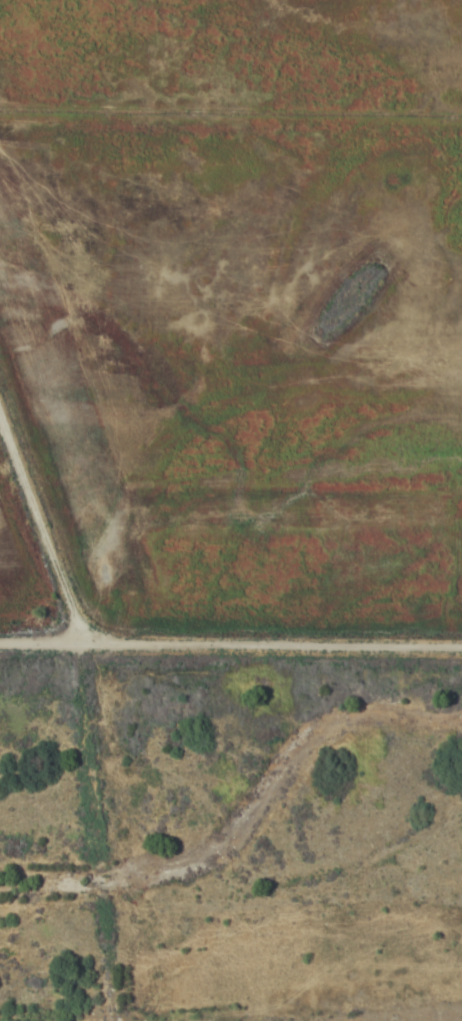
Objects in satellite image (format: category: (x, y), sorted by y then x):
road: (231, 632)

